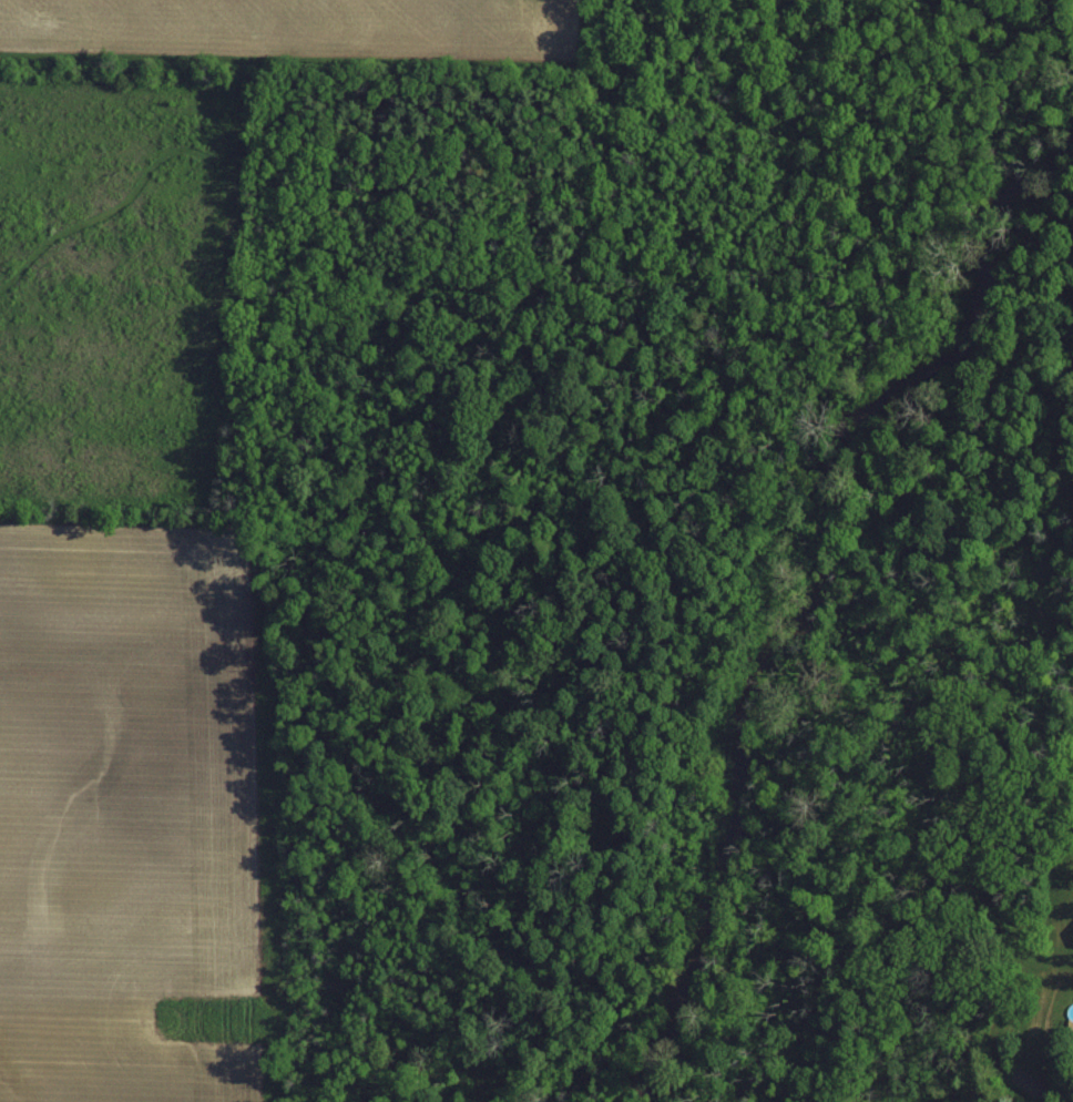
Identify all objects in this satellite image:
road: (613, 100)
road: (956, 161)
road: (498, 193)
road: (121, 201)
road: (799, 259)
road: (461, 313)
road: (102, 399)
road: (765, 415)
road: (429, 435)
river: (786, 549)

